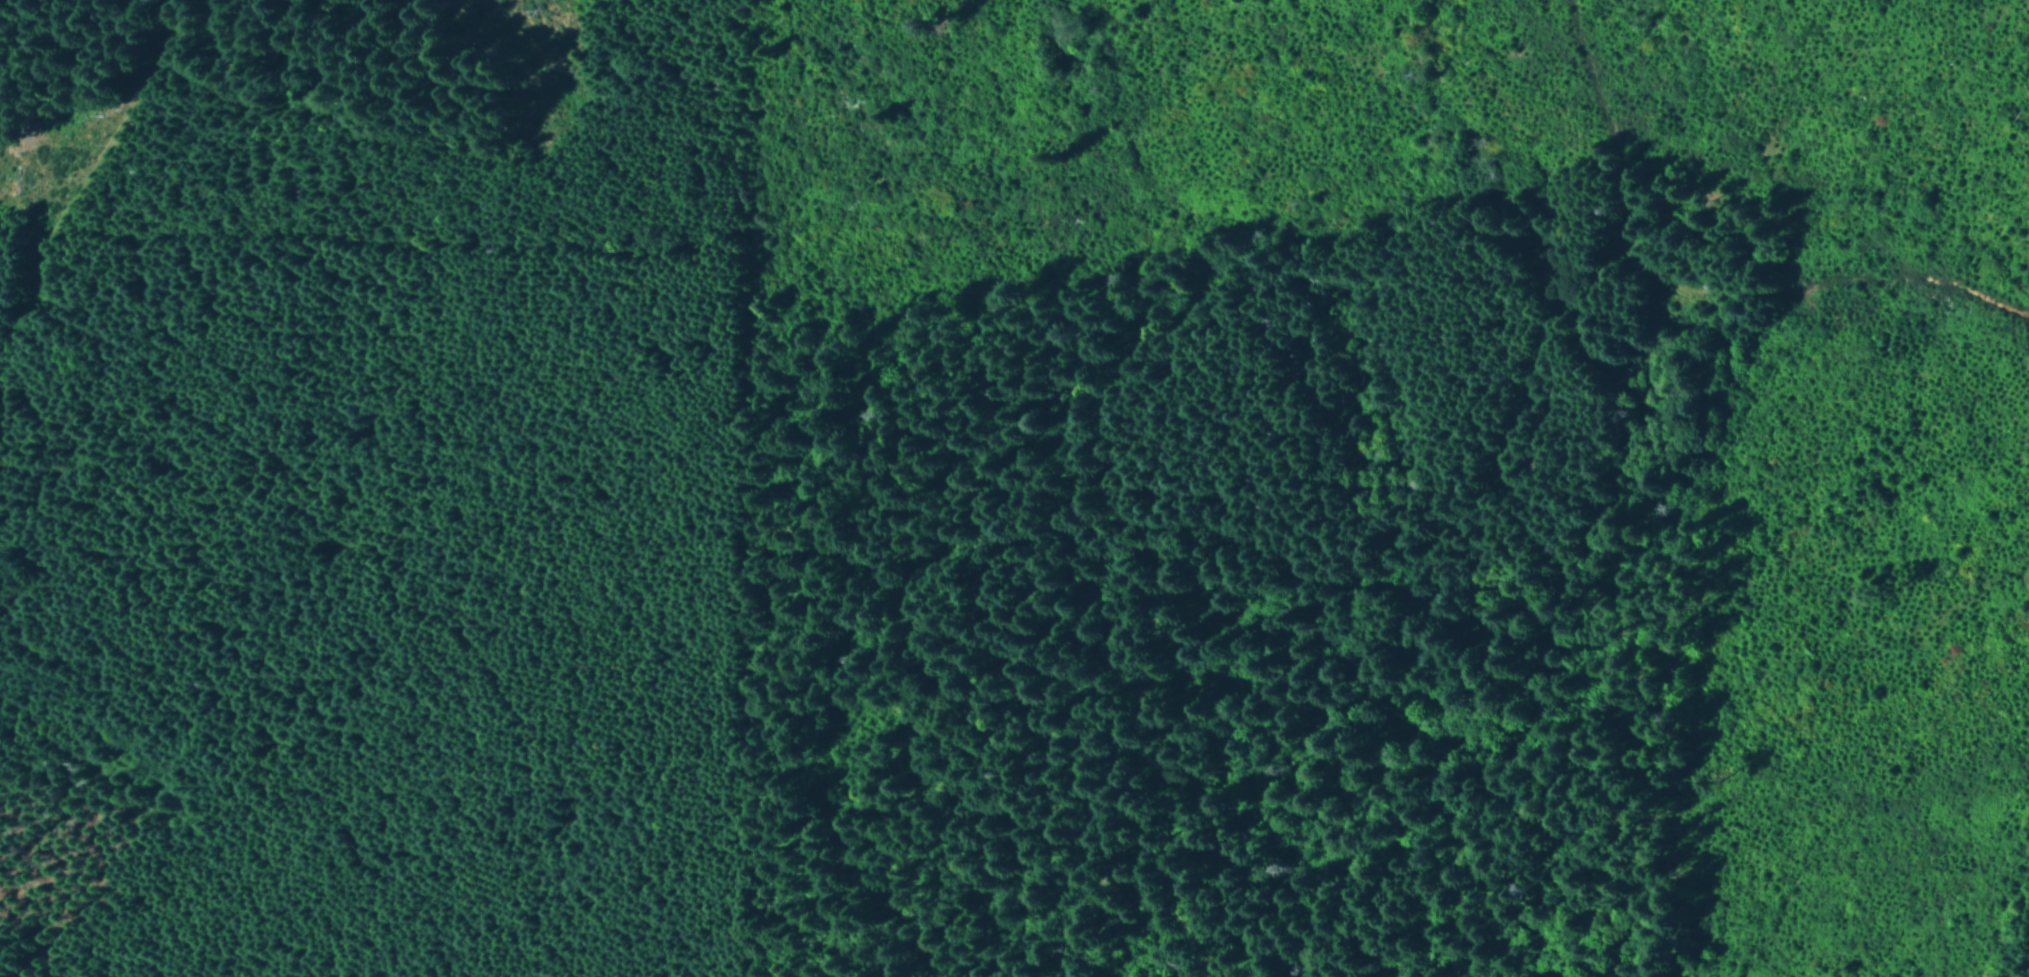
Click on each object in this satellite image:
road: (1608, 94)
road: (1193, 619)

